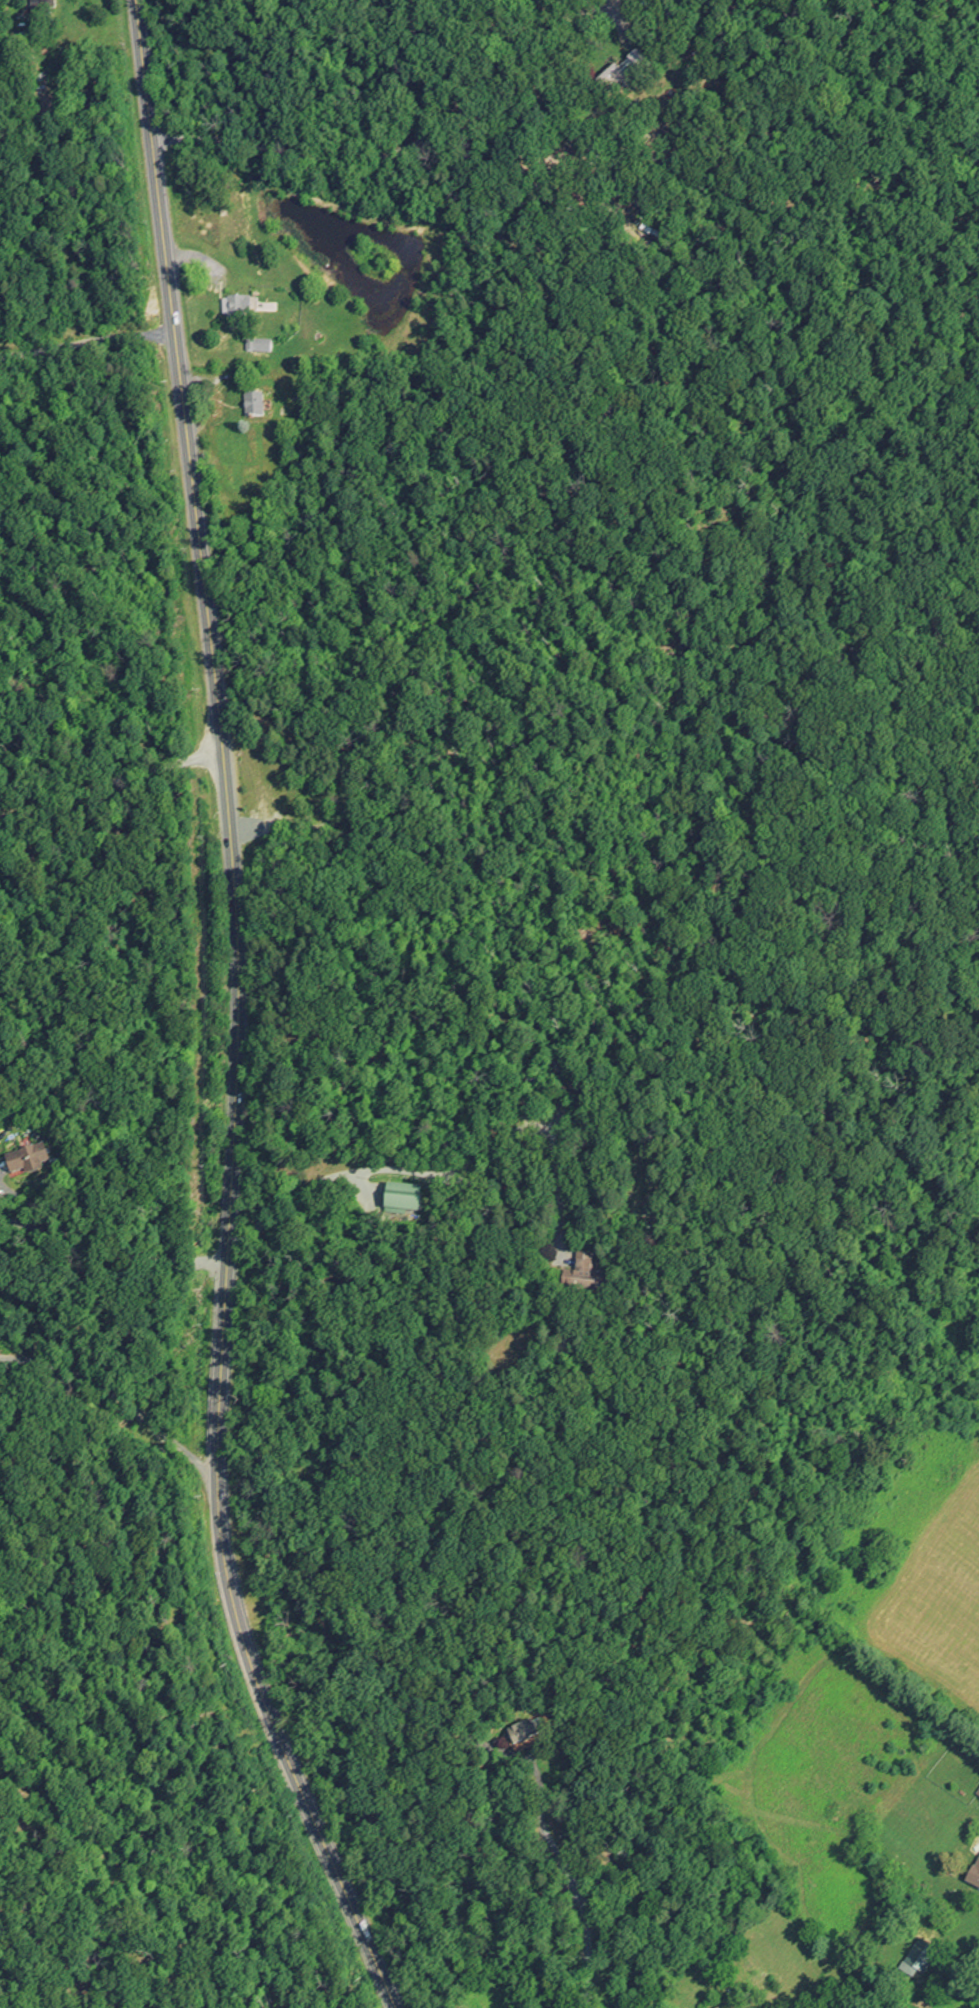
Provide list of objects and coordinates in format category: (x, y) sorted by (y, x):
building: (46, 10)
road: (395, 146)
building: (245, 309)
road: (87, 340)
building: (262, 406)
road: (114, 793)
road: (237, 1018)
building: (34, 1163)
road: (446, 1177)
road: (29, 1200)
building: (413, 1200)
road: (25, 1224)
road: (136, 1260)
building: (591, 1270)
road: (115, 1398)
road: (564, 1871)
building: (929, 1954)

